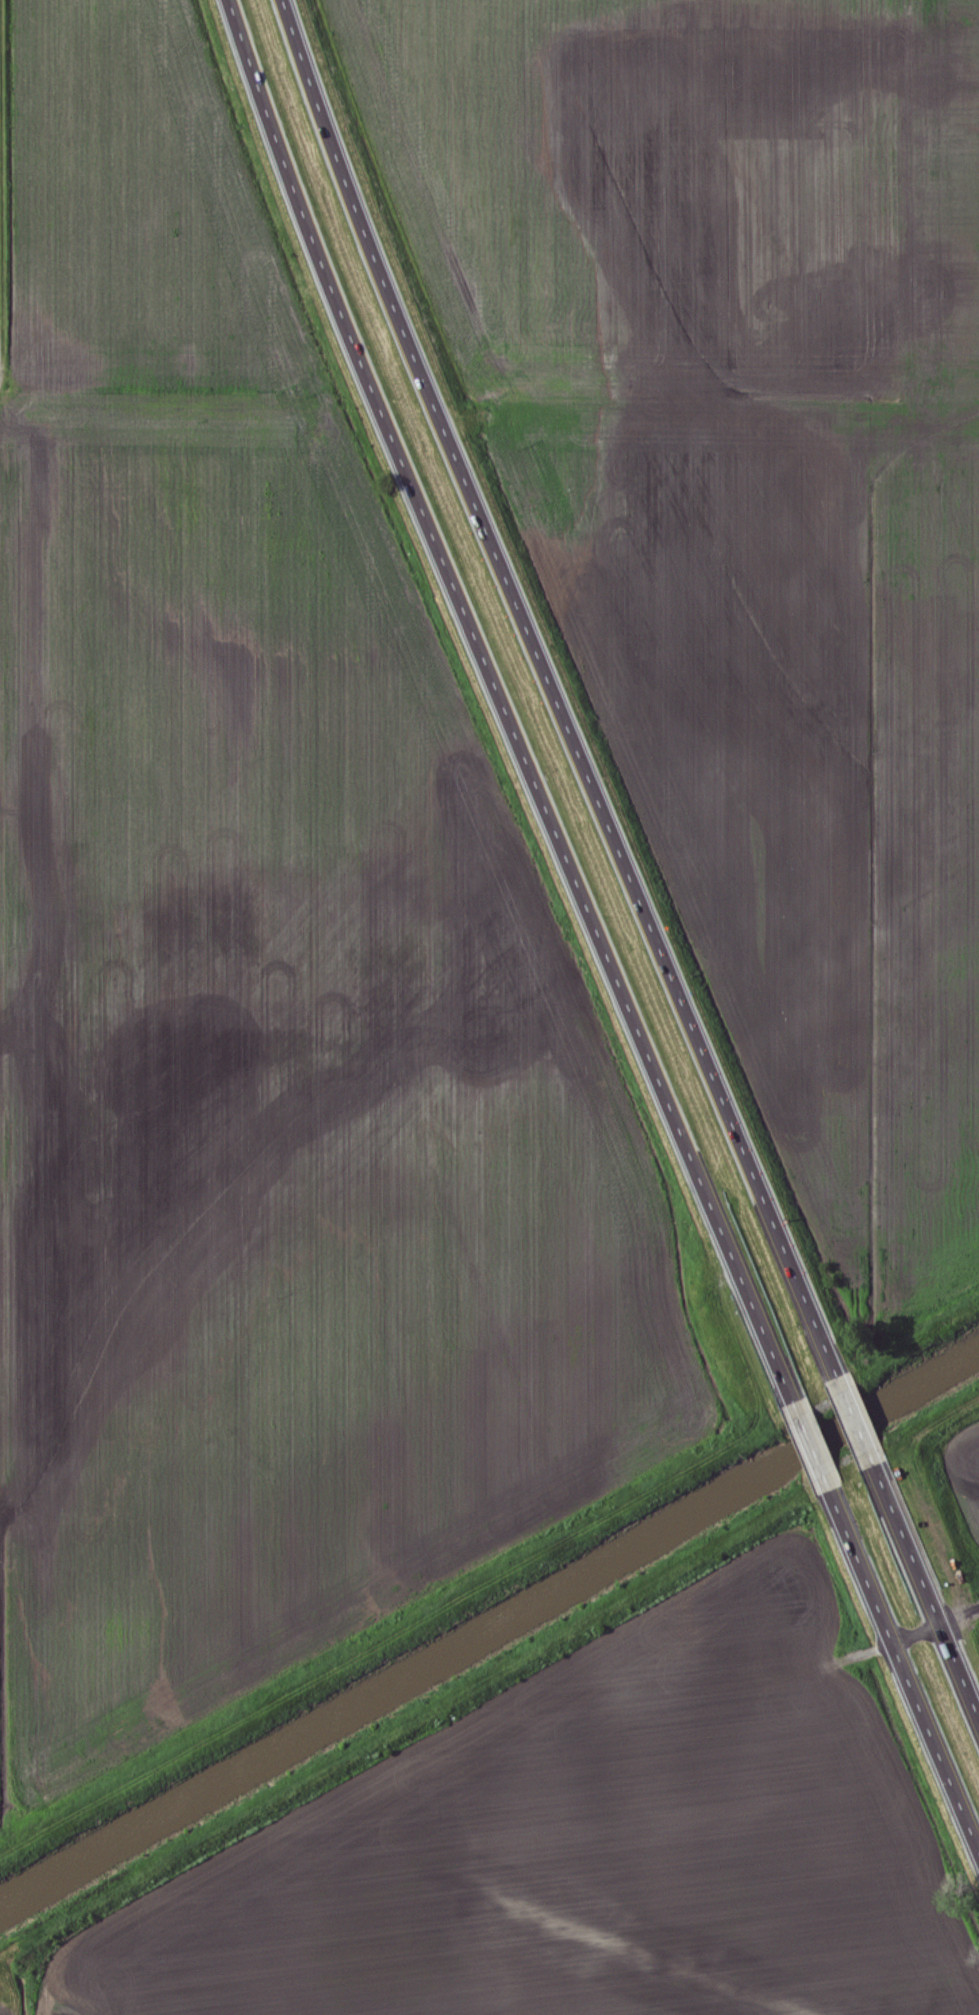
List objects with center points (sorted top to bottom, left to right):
road: (553, 690)
road: (504, 704)
road: (855, 1420)
road: (811, 1447)
road: (926, 1591)
road: (904, 1669)

